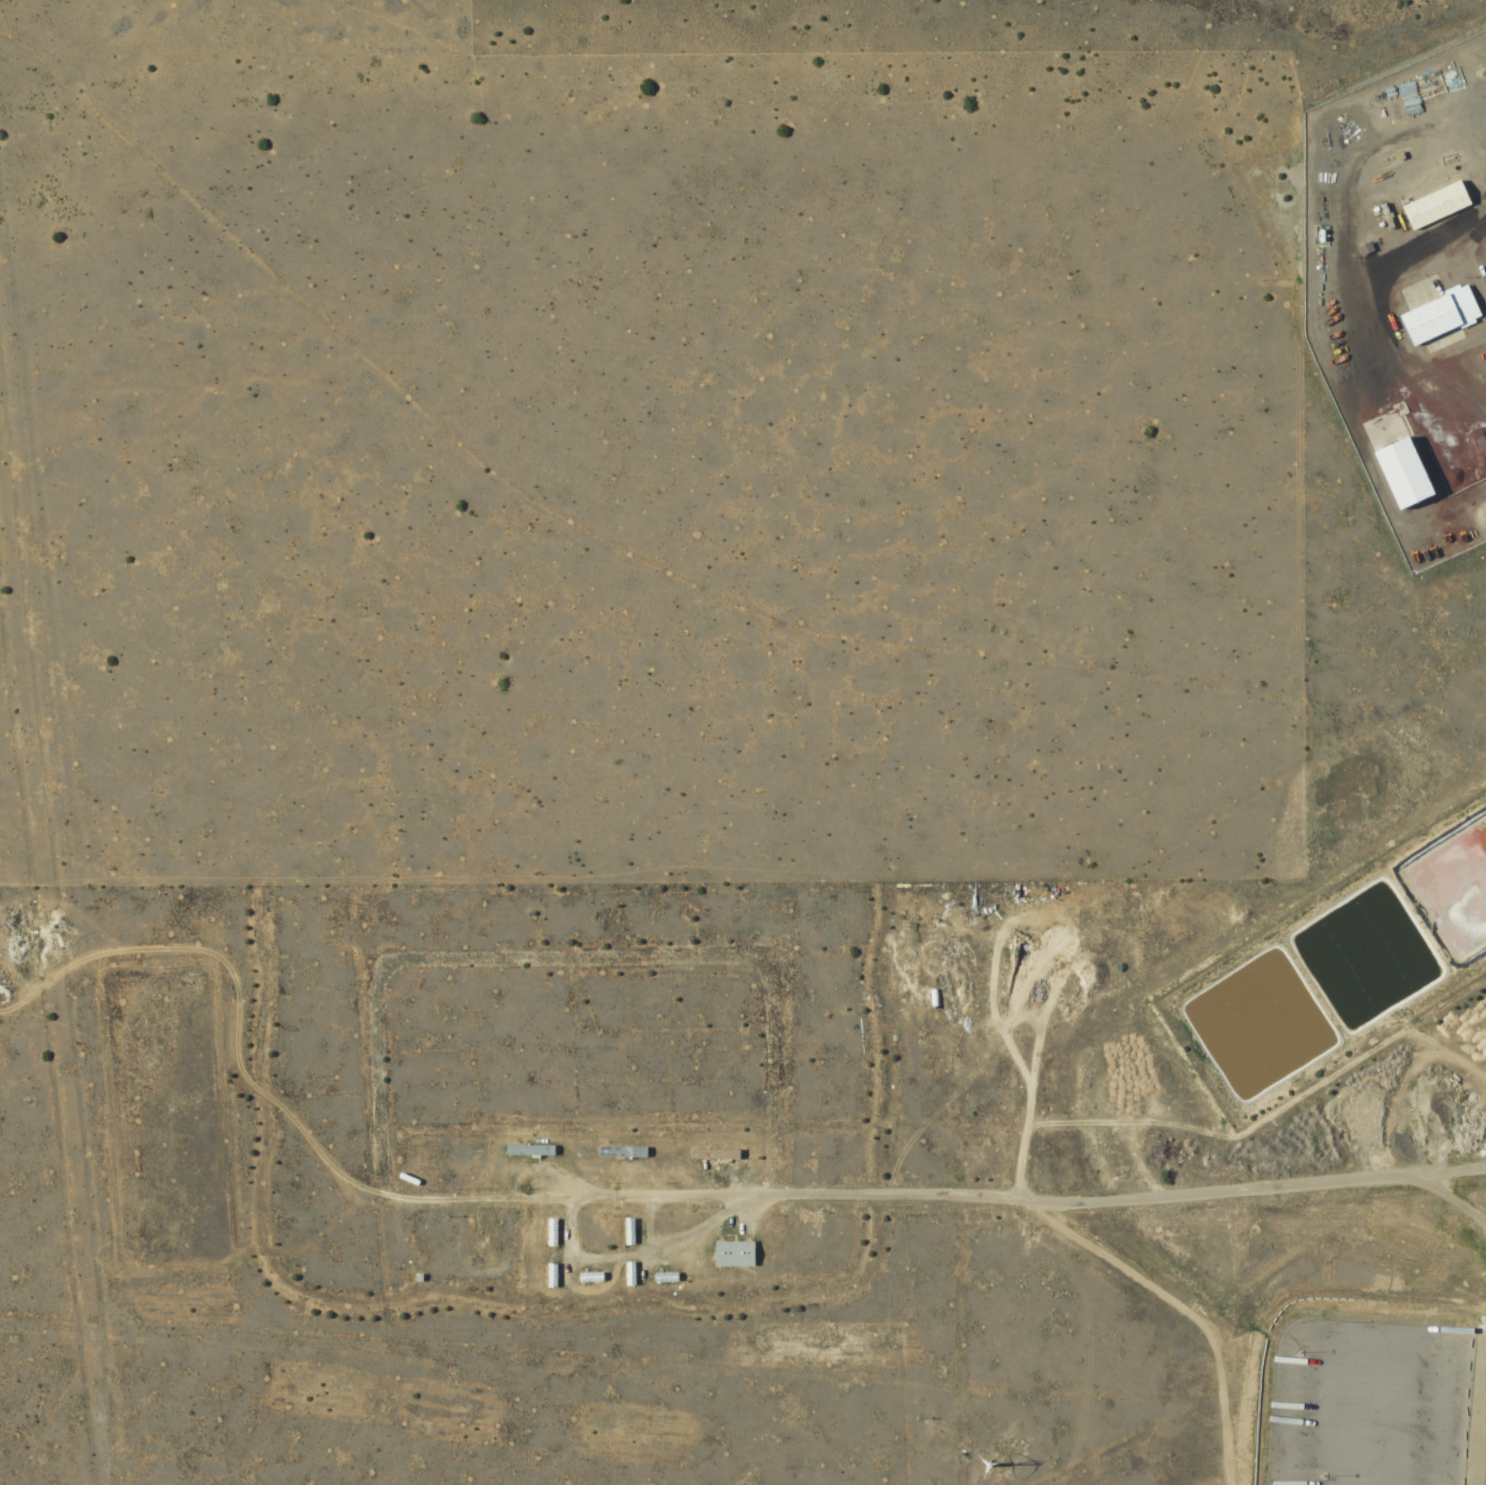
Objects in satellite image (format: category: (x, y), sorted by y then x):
building: (1429, 208)
building: (1432, 317)
road: (1018, 920)
road: (235, 990)
building: (929, 1000)
road: (1024, 1139)
building: (525, 1152)
building: (617, 1153)
building: (709, 1155)
road: (1453, 1169)
road: (1259, 1186)
road: (698, 1197)
building: (626, 1232)
building: (546, 1233)
road: (640, 1252)
building: (729, 1255)
building: (626, 1274)
building: (547, 1276)
building: (585, 1278)
building: (660, 1278)
road: (1476, 1400)
parking lot: (1370, 1403)

